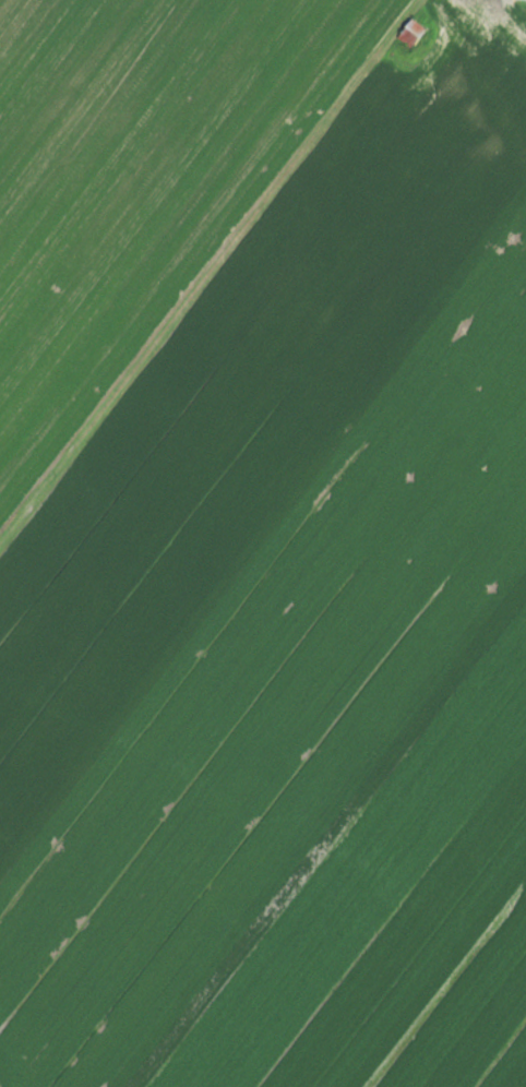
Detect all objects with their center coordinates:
building: (409, 31)
road: (207, 268)

